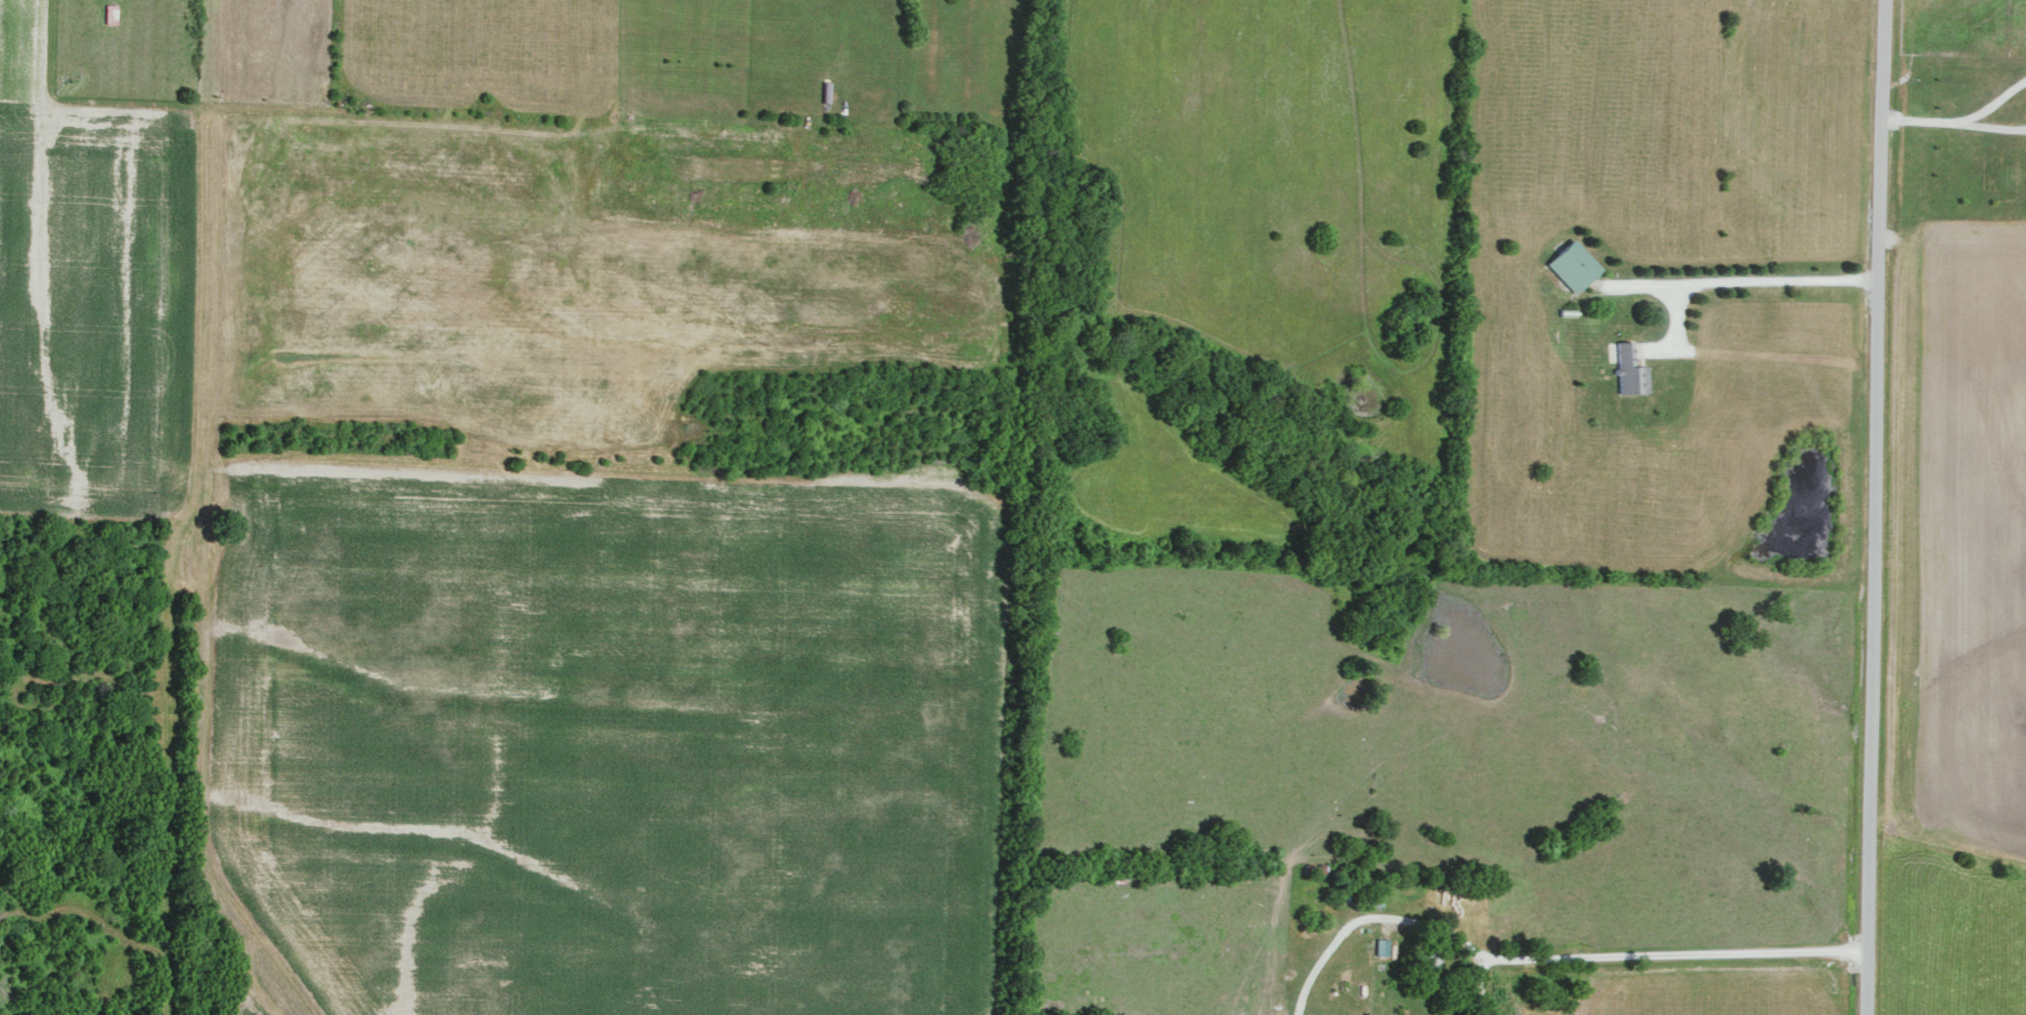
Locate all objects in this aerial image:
building: (110, 13)
road: (1995, 103)
road: (1921, 121)
road: (1994, 128)
road: (1896, 242)
building: (1573, 264)
road: (1737, 282)
road: (1677, 332)
building: (1631, 370)
road: (1870, 507)
road: (1371, 926)
building: (1381, 945)
road: (1647, 960)

